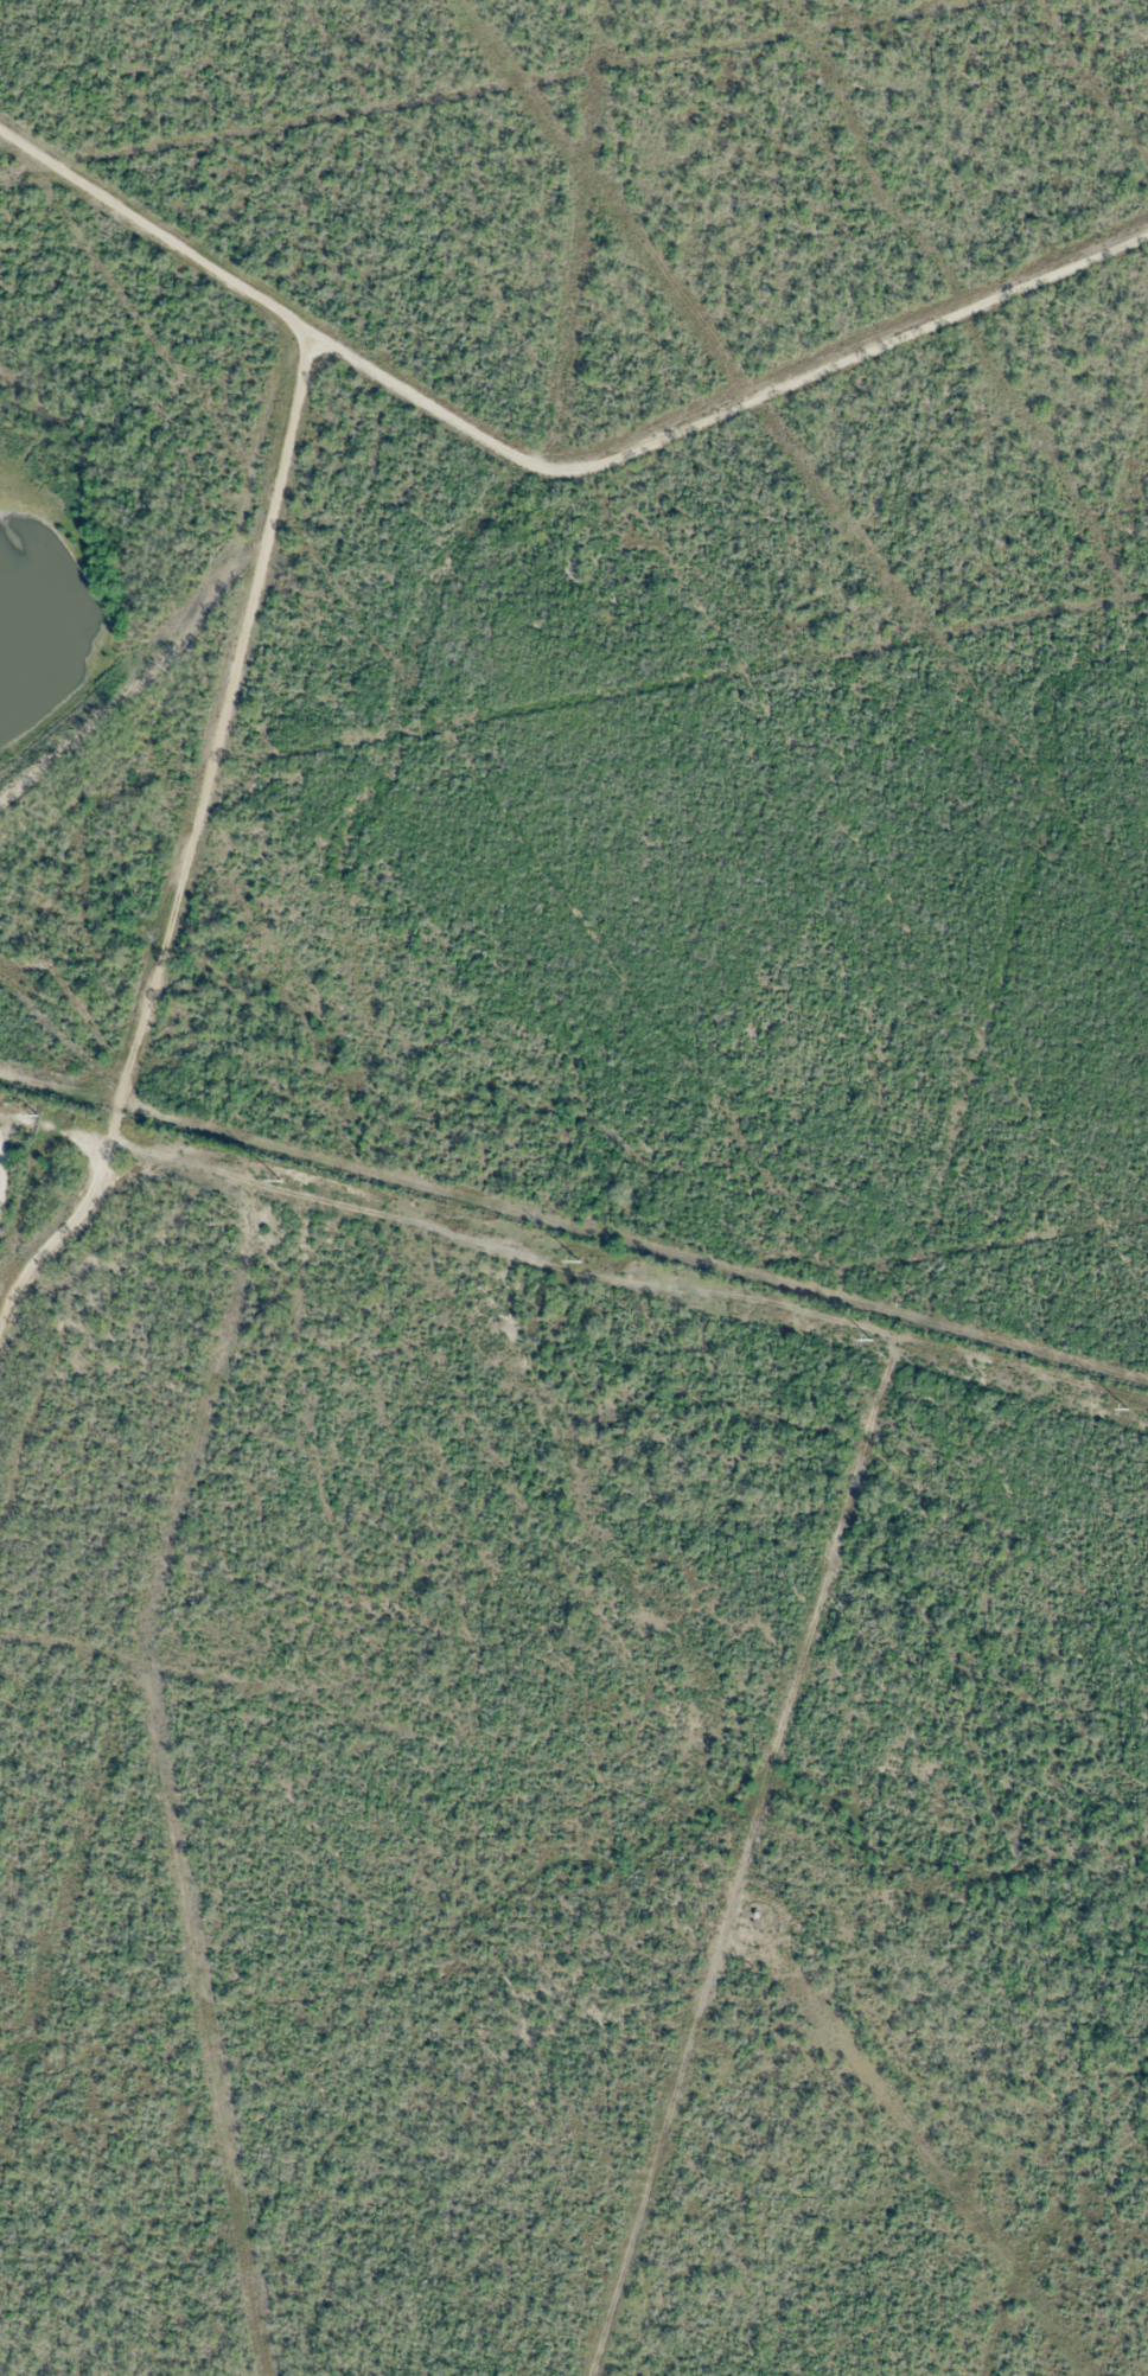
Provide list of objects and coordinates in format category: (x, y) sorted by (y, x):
road: (549, 466)
power tower: (33, 1124)
power tower: (279, 1184)
power tower: (579, 1262)
power tower: (870, 1339)
power tower: (1127, 1410)

